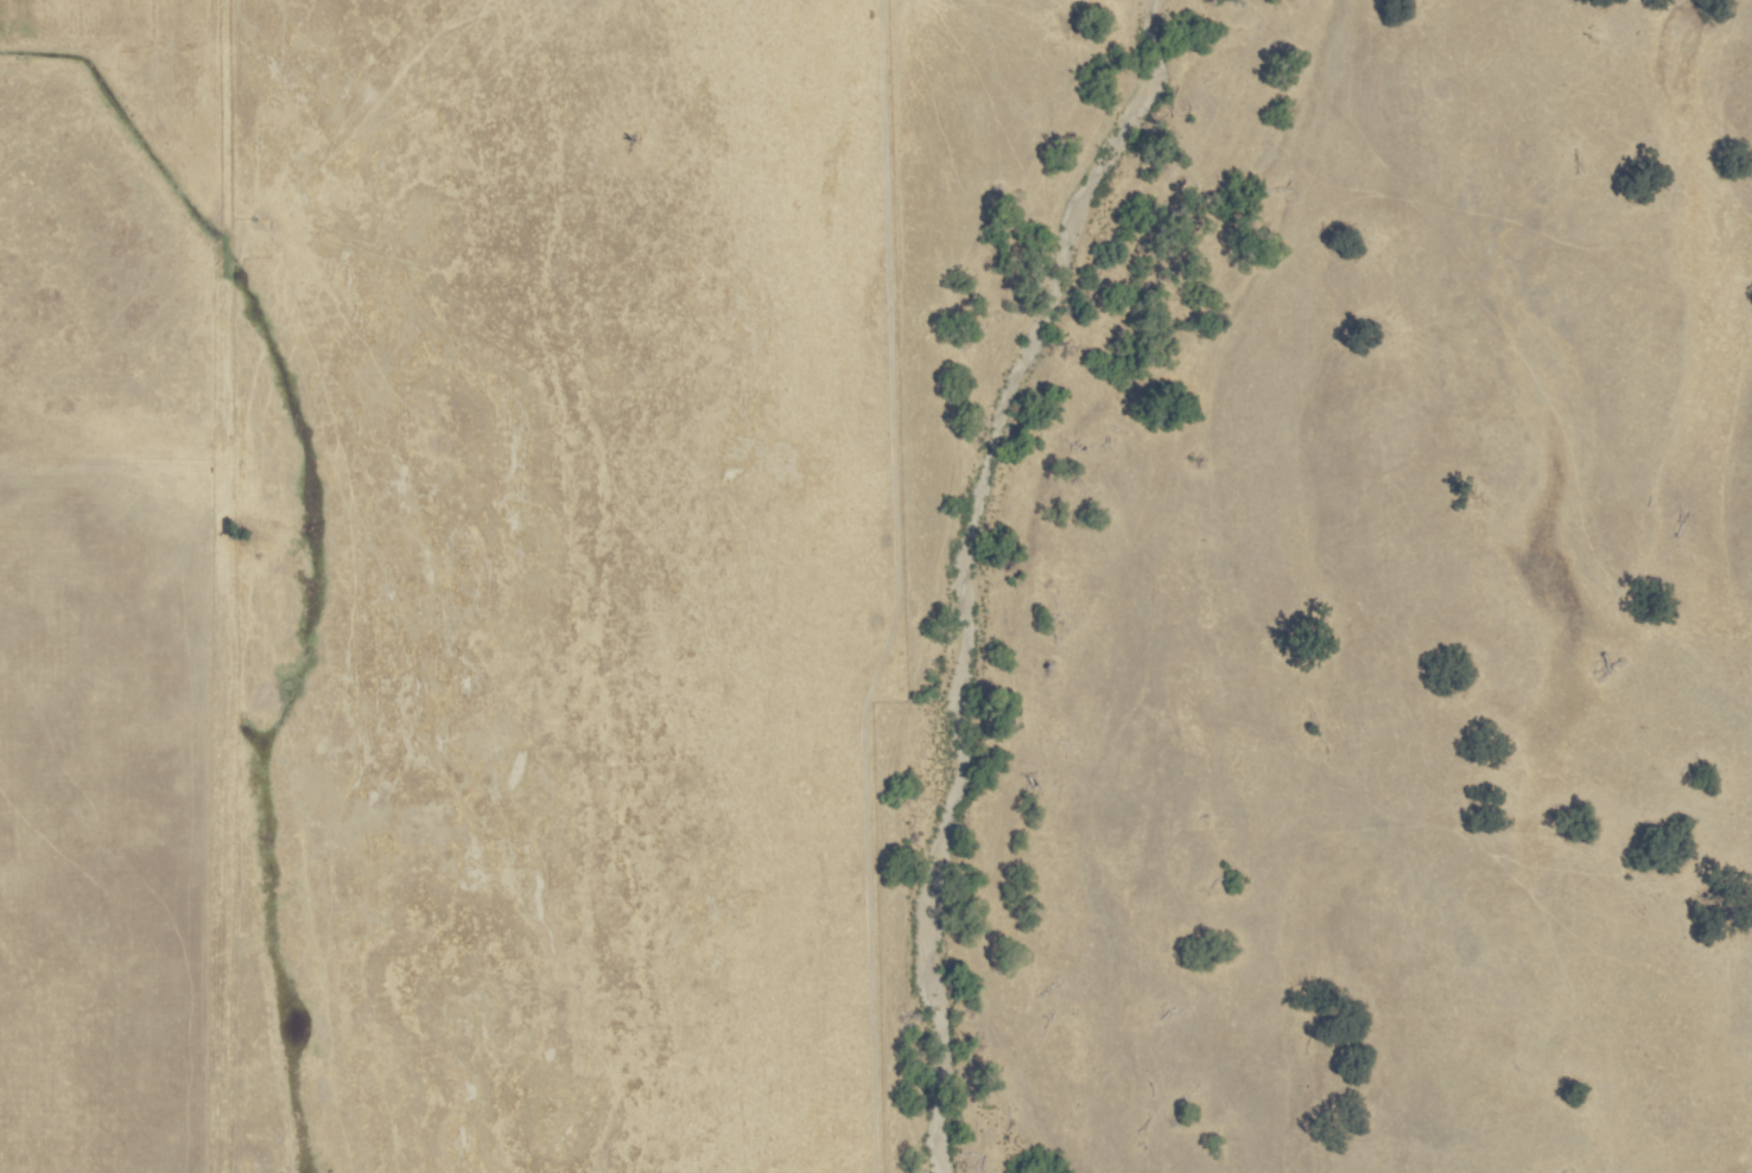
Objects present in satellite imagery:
crop: (457, 573)
crop: (1474, 593)

